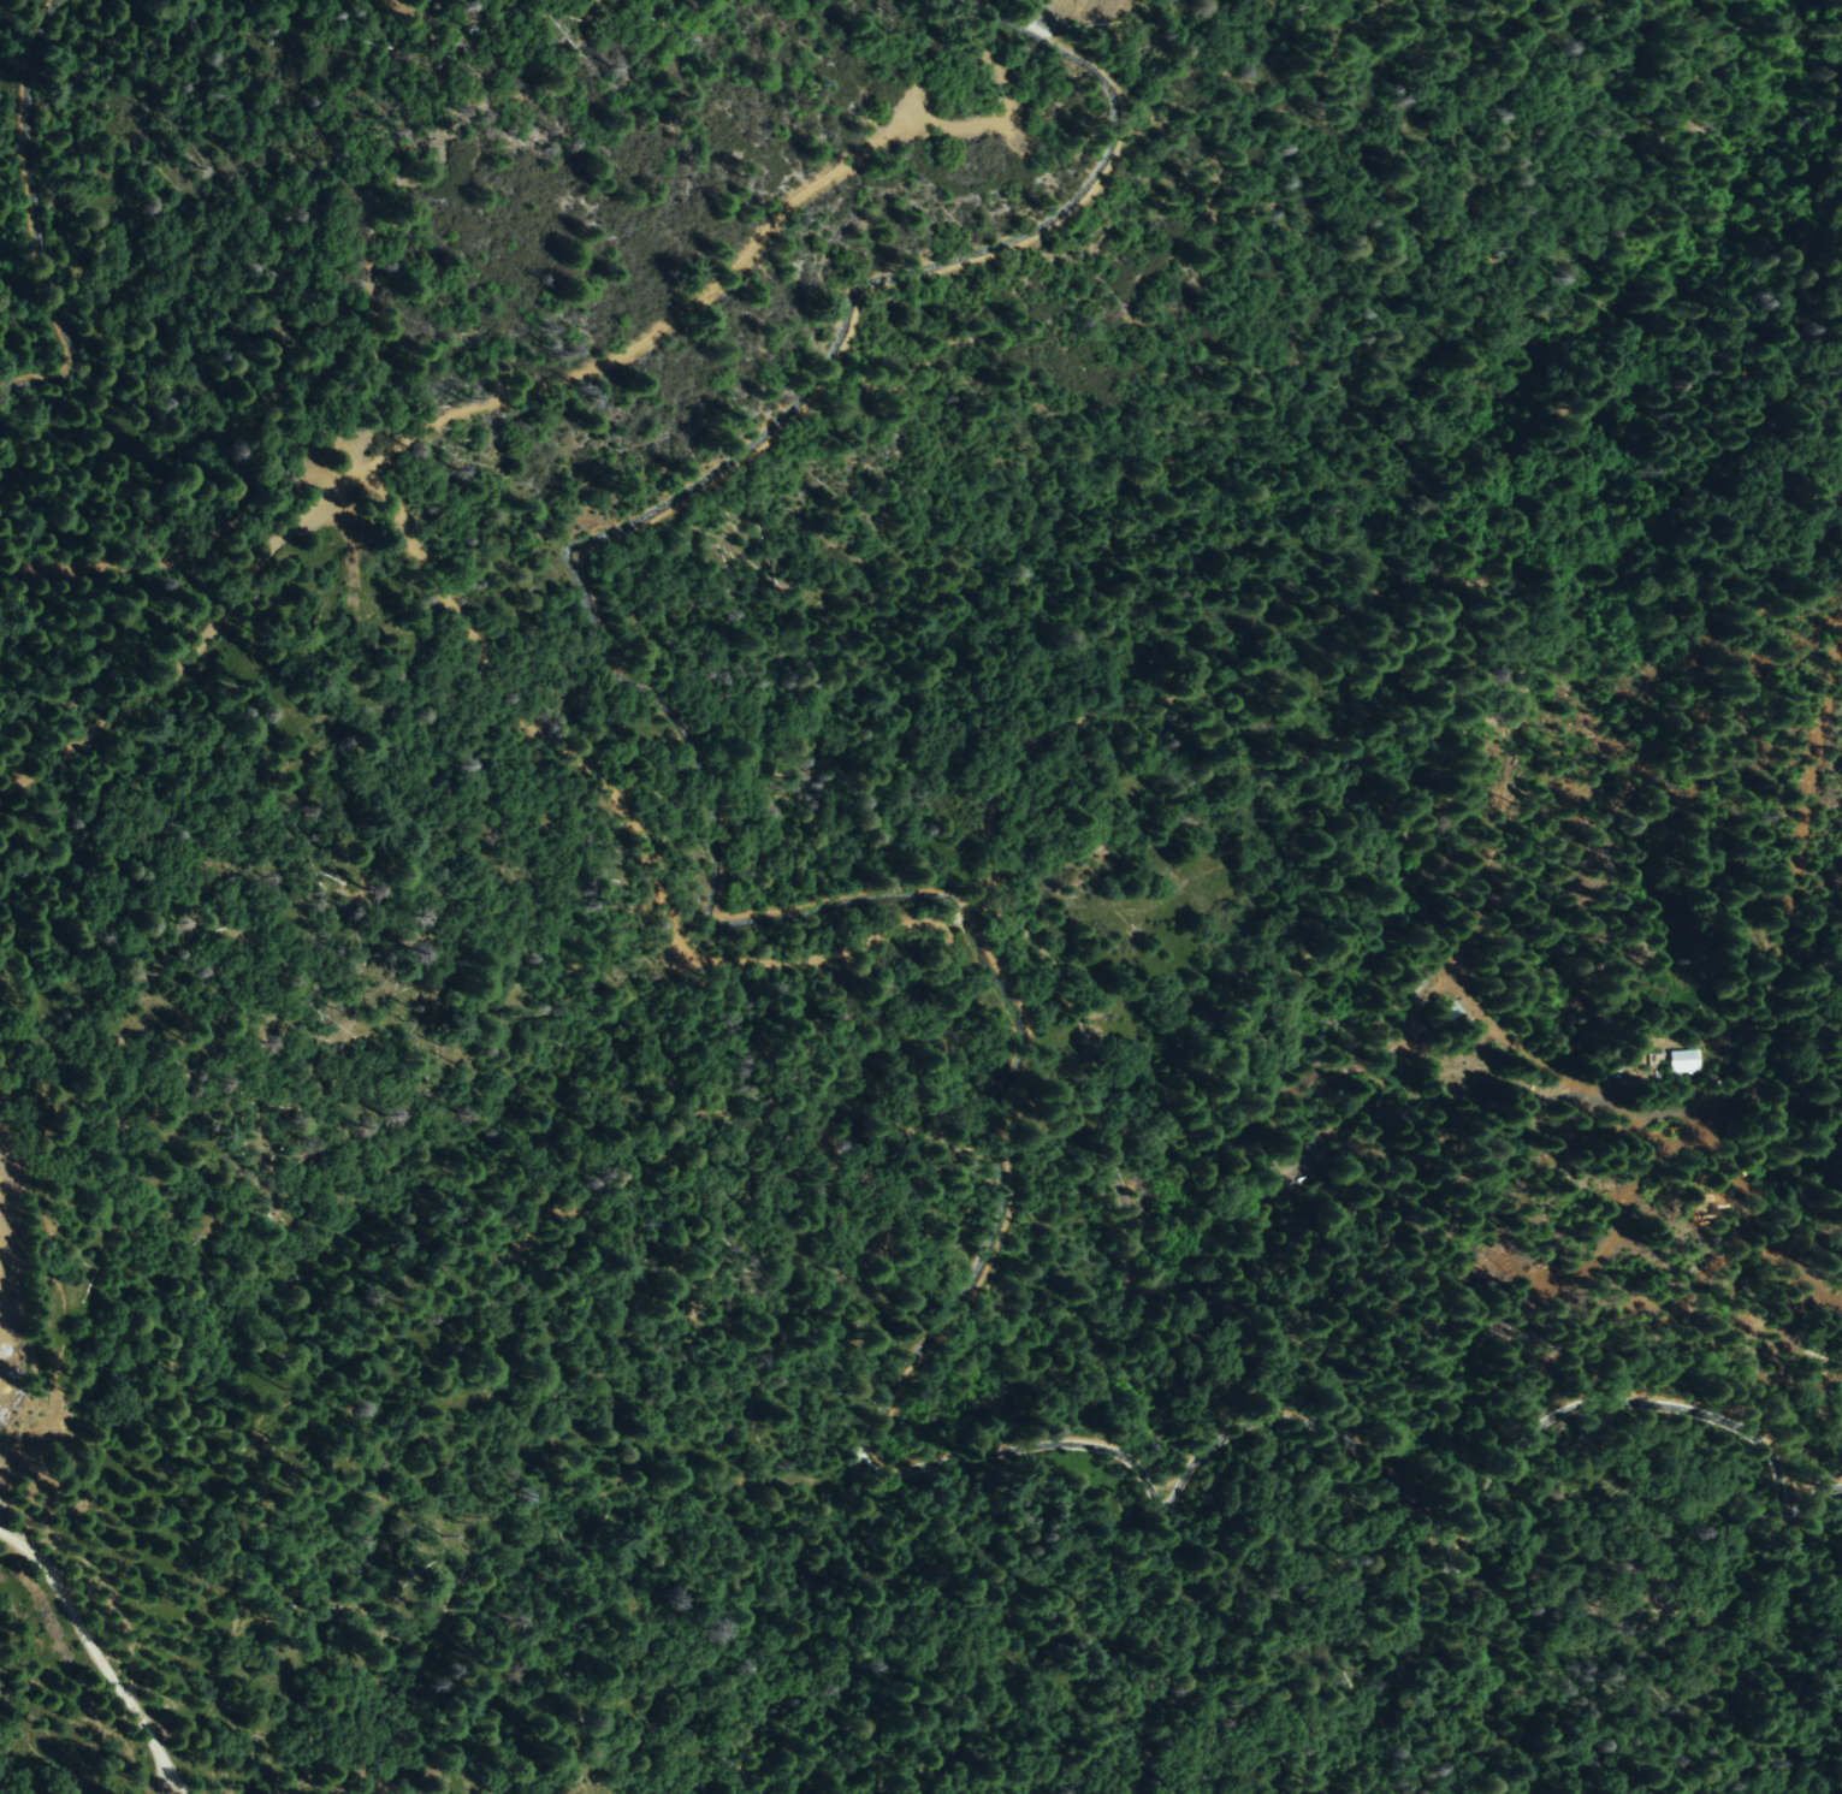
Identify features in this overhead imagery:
road: (280, 513)
building: (1444, 1016)
building: (1684, 1062)
building: (1295, 1084)
road: (96, 1654)

